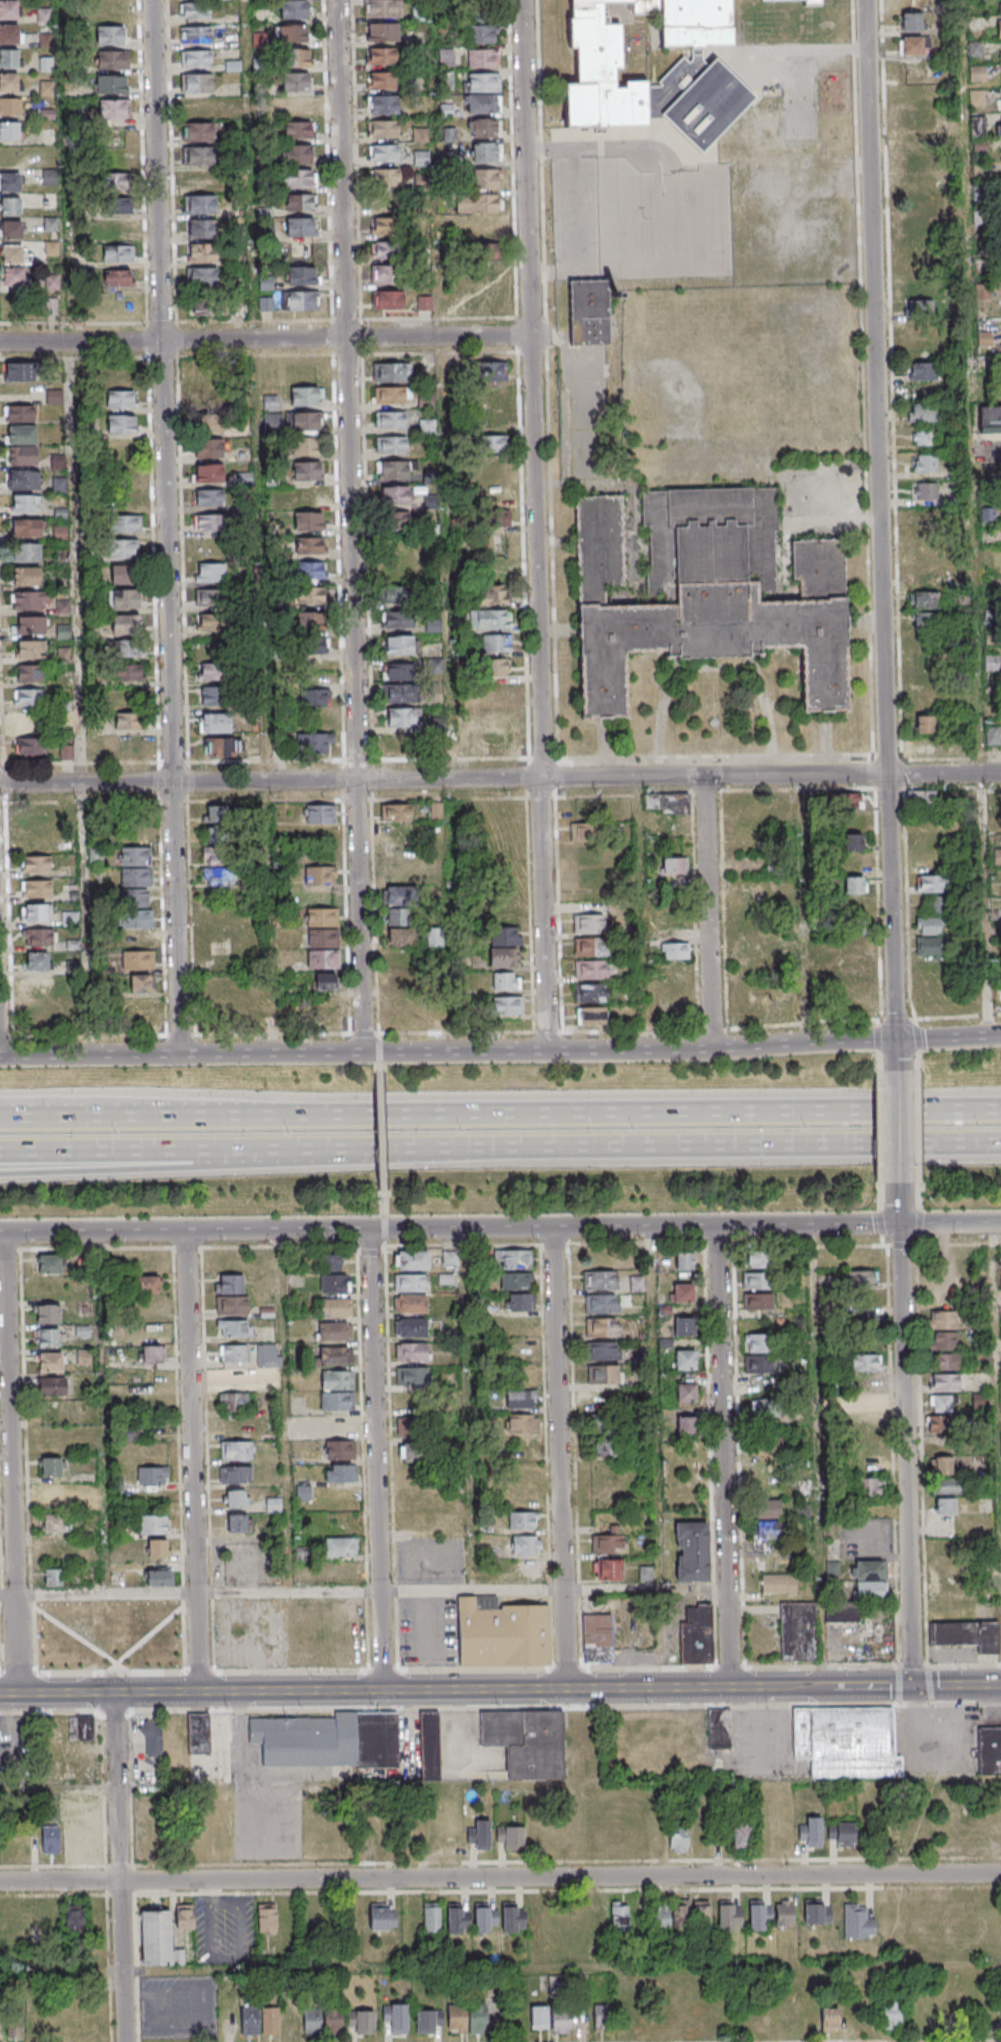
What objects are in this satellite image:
building: (774, 0)
building: (812, 3)
building: (999, 6)
building: (382, 8)
building: (8, 9)
building: (293, 9)
building: (194, 10)
building: (910, 22)
road: (865, 24)
building: (998, 29)
building: (382, 31)
building: (10, 33)
building: (292, 33)
building: (481, 33)
building: (194, 34)
building: (109, 35)
building: (912, 45)
building: (381, 55)
building: (8, 57)
building: (445, 57)
building: (483, 57)
building: (195, 58)
building: (295, 58)
building: (112, 60)
building: (698, 75)
building: (382, 80)
building: (445, 80)
building: (10, 81)
building: (295, 81)
building: (195, 82)
building: (481, 82)
building: (113, 84)
building: (482, 103)
building: (383, 104)
building: (297, 105)
building: (10, 106)
building: (197, 107)
building: (114, 110)
building: (917, 120)
building: (999, 126)
building: (978, 127)
building: (484, 128)
building: (298, 129)
building: (382, 129)
building: (9, 130)
building: (198, 131)
building: (419, 135)
building: (911, 143)
road: (617, 147)
building: (486, 152)
building: (383, 153)
building: (198, 155)
building: (296, 155)
building: (48, 177)
building: (199, 179)
building: (299, 179)
building: (385, 179)
building: (485, 179)
building: (9, 181)
building: (116, 182)
building: (919, 195)
building: (384, 201)
building: (300, 202)
building: (200, 204)
building: (116, 205)
building: (479, 205)
building: (9, 206)
road: (580, 207)
building: (300, 227)
building: (383, 227)
building: (201, 228)
building: (10, 229)
building: (485, 230)
road: (966, 233)
building: (301, 251)
building: (383, 251)
building: (486, 252)
building: (118, 253)
building: (201, 253)
building: (12, 254)
building: (301, 275)
building: (384, 275)
building: (13, 277)
building: (202, 277)
building: (117, 278)
building: (302, 299)
building: (387, 300)
building: (424, 302)
building: (48, 306)
building: (202, 306)
building: (590, 314)
road: (265, 338)
building: (921, 351)
building: (487, 370)
building: (19, 371)
building: (922, 371)
building: (388, 372)
building: (119, 378)
building: (306, 395)
building: (391, 395)
building: (206, 399)
building: (120, 400)
building: (270, 402)
building: (923, 412)
building: (19, 413)
building: (491, 418)
building: (989, 419)
building: (390, 420)
building: (273, 421)
building: (305, 421)
building: (208, 422)
building: (120, 425)
building: (20, 434)
building: (923, 436)
building: (493, 443)
building: (390, 445)
building: (307, 446)
building: (208, 448)
road: (987, 451)
building: (20, 455)
building: (56, 461)
building: (925, 463)
building: (394, 469)
building: (493, 469)
building: (208, 473)
building: (304, 473)
building: (22, 480)
building: (58, 485)
building: (925, 490)
building: (394, 494)
building: (209, 498)
building: (25, 503)
building: (496, 518)
building: (309, 521)
building: (209, 522)
building: (396, 522)
building: (124, 523)
road: (536, 525)
road: (168, 526)
road: (262, 526)
road: (351, 526)
building: (25, 527)
building: (310, 546)
building: (122, 549)
building: (26, 552)
road: (880, 560)
building: (492, 569)
building: (311, 571)
building: (396, 571)
building: (210, 572)
building: (123, 575)
building: (26, 576)
building: (925, 578)
building: (707, 593)
building: (397, 594)
building: (311, 595)
building: (491, 595)
building: (210, 597)
building: (124, 600)
building: (924, 600)
building: (397, 620)
building: (489, 620)
building: (924, 620)
building: (315, 621)
building: (212, 622)
building: (124, 624)
building: (28, 625)
road: (447, 635)
building: (496, 643)
building: (398, 645)
building: (314, 646)
building: (29, 649)
building: (127, 649)
building: (499, 667)
building: (398, 672)
building: (30, 673)
building: (127, 673)
building: (212, 673)
building: (500, 692)
building: (398, 693)
building: (29, 697)
building: (215, 697)
road: (80, 698)
building: (313, 701)
building: (500, 715)
building: (402, 717)
building: (129, 721)
building: (28, 723)
building: (214, 724)
building: (924, 725)
building: (993, 735)
building: (500, 740)
building: (400, 741)
road: (980, 743)
building: (129, 745)
building: (312, 745)
building: (29, 746)
building: (222, 747)
building: (919, 747)
building: (66, 750)
building: (92, 751)
road: (500, 778)
building: (921, 797)
building: (671, 803)
building: (395, 812)
building: (214, 814)
building: (319, 814)
building: (852, 821)
building: (584, 832)
building: (216, 835)
building: (852, 842)
building: (215, 856)
building: (853, 862)
building: (931, 862)
building: (35, 864)
building: (674, 867)
building: (134, 875)
building: (218, 877)
building: (319, 877)
building: (930, 883)
building: (854, 885)
building: (36, 888)
building: (398, 904)
building: (936, 904)
road: (710, 911)
building: (34, 912)
building: (853, 915)
building: (69, 918)
building: (218, 918)
building: (136, 919)
building: (590, 923)
building: (930, 925)
building: (506, 936)
building: (38, 937)
building: (401, 938)
building: (436, 938)
building: (322, 940)
building: (589, 946)
building: (931, 946)
building: (136, 950)
building: (674, 950)
building: (756, 953)
building: (503, 957)
building: (36, 961)
building: (856, 967)
building: (591, 969)
building: (506, 981)
building: (321, 982)
building: (400, 982)
building: (139, 983)
building: (856, 988)
building: (590, 992)
building: (506, 1005)
building: (39, 1010)
building: (591, 1015)
road: (365, 1033)
road: (273, 1034)
road: (90, 1035)
road: (181, 1035)
road: (7, 1037)
road: (947, 1037)
road: (379, 1043)
road: (825, 1043)
road: (568, 1050)
road: (183, 1053)
road: (373, 1053)
road: (379, 1059)
road: (638, 1117)
road: (137, 1118)
road: (897, 1128)
road: (382, 1138)
road: (500, 1152)
road: (97, 1165)
road: (385, 1219)
road: (949, 1223)
road: (642, 1227)
road: (192, 1230)
road: (385, 1238)
building: (449, 1258)
building: (513, 1259)
building: (410, 1260)
building: (758, 1260)
building: (330, 1261)
building: (683, 1261)
building: (49, 1265)
building: (756, 1280)
building: (861, 1280)
building: (514, 1281)
building: (599, 1281)
building: (410, 1282)
building: (337, 1283)
building: (229, 1284)
building: (636, 1284)
building: (146, 1285)
building: (682, 1294)
building: (517, 1301)
building: (757, 1301)
building: (411, 1302)
building: (601, 1304)
building: (231, 1305)
building: (153, 1306)
building: (337, 1306)
building: (46, 1313)
road: (998, 1315)
building: (942, 1320)
building: (862, 1324)
building: (412, 1326)
building: (602, 1327)
building: (683, 1327)
building: (233, 1328)
building: (149, 1330)
building: (336, 1330)
building: (80, 1332)
building: (46, 1337)
building: (943, 1340)
building: (757, 1343)
building: (413, 1351)
building: (601, 1351)
building: (233, 1352)
building: (151, 1354)
building: (335, 1355)
building: (82, 1357)
building: (685, 1360)
building: (944, 1361)
building: (48, 1362)
building: (865, 1362)
building: (758, 1365)
building: (603, 1374)
building: (414, 1376)
building: (233, 1377)
building: (339, 1380)
building: (945, 1381)
building: (50, 1386)
building: (685, 1394)
building: (520, 1400)
building: (233, 1401)
building: (338, 1401)
building: (943, 1402)
building: (867, 1404)
road: (657, 1408)
road: (471, 1409)
building: (766, 1409)
road: (283, 1410)
building: (337, 1424)
building: (521, 1424)
building: (602, 1424)
building: (936, 1424)
building: (413, 1426)
building: (686, 1426)
road: (904, 1435)
building: (603, 1447)
building: (339, 1449)
building: (236, 1450)
building: (416, 1453)
road: (818, 1456)
road: (726, 1457)
road: (563, 1458)
road: (379, 1460)
road: (193, 1461)
road: (13, 1462)
building: (50, 1466)
building: (942, 1466)
building: (338, 1473)
building: (234, 1474)
building: (151, 1476)
building: (948, 1487)
building: (868, 1488)
building: (51, 1495)
building: (236, 1499)
building: (945, 1506)
building: (767, 1509)
building: (802, 1511)
building: (522, 1521)
building: (236, 1523)
building: (51, 1524)
building: (151, 1524)
building: (767, 1529)
building: (609, 1541)
building: (525, 1545)
building: (340, 1547)
building: (156, 1548)
building: (692, 1551)
building: (788, 1558)
building: (832, 1568)
building: (608, 1569)
building: (868, 1569)
building: (945, 1569)
building: (338, 1573)
building: (645, 1573)
building: (158, 1576)
building: (52, 1579)
building: (778, 1583)
road: (556, 1590)
building: (869, 1590)
road: (191, 1591)
building: (946, 1591)
building: (842, 1613)
building: (327, 1631)
building: (798, 1631)
building: (504, 1633)
building: (696, 1634)
building: (968, 1635)
building: (597, 1639)
traffic signals: (911, 1686)
road: (500, 1689)
building: (80, 1727)
building: (720, 1729)
building: (152, 1739)
building: (327, 1740)
building: (527, 1741)
building: (849, 1742)
building: (429, 1745)
building: (209, 1748)
building: (991, 1751)
road: (560, 1787)
road: (60, 1791)
building: (84, 1822)
building: (810, 1832)
building: (740, 1834)
building: (841, 1834)
building: (479, 1835)
building: (510, 1837)
building: (678, 1838)
building: (52, 1840)
road: (121, 1867)
road: (500, 1876)
building: (817, 1911)
building: (784, 1912)
building: (760, 1914)
building: (681, 1915)
building: (701, 1915)
building: (729, 1915)
building: (660, 1916)
building: (184, 1917)
building: (382, 1917)
building: (434, 1917)
building: (458, 1917)
building: (485, 1917)
building: (513, 1917)
building: (74, 1918)
building: (267, 1918)
building: (619, 1918)
building: (31, 1919)
building: (857, 1921)
building: (155, 1938)
road: (500, 1966)
building: (602, 2016)
building: (891, 2016)
building: (539, 2017)
building: (459, 2018)
building: (830, 2018)
building: (249, 2019)
building: (401, 2019)
building: (480, 2019)
building: (270, 2020)
building: (291, 2020)
building: (323, 2021)
building: (429, 2021)
building: (560, 2021)
building: (15, 2023)
building: (367, 2023)

